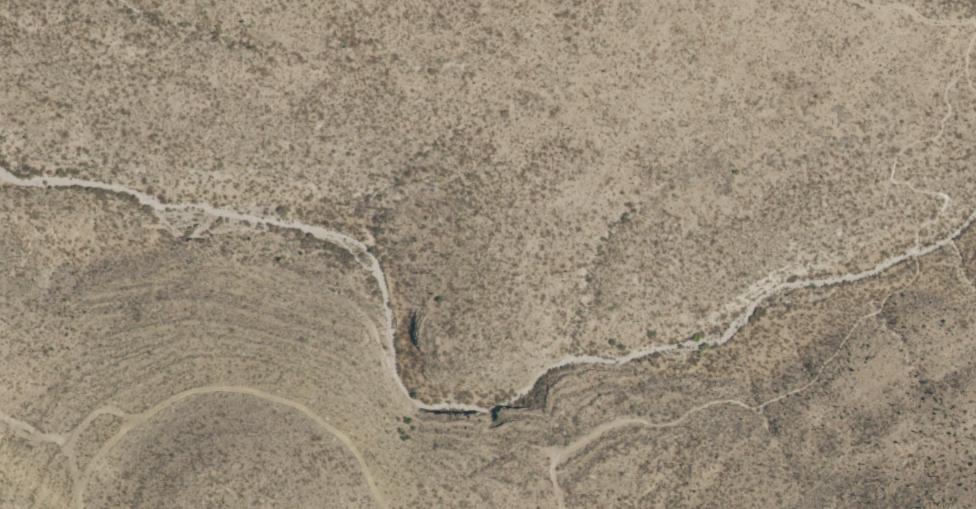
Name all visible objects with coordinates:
road: (968, 58)

